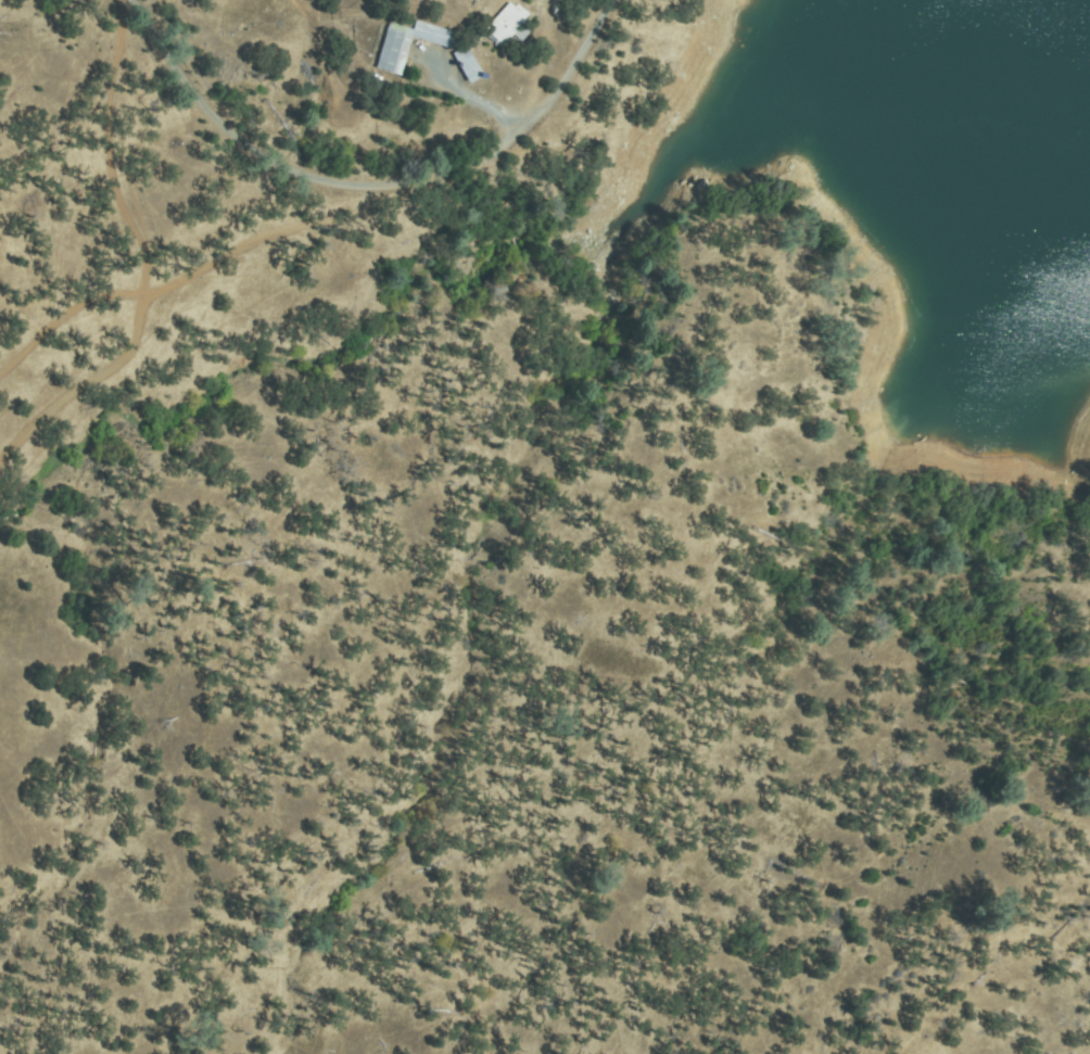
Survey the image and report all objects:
building: (509, 22)
building: (435, 35)
building: (395, 50)
building: (469, 63)
road: (380, 180)

